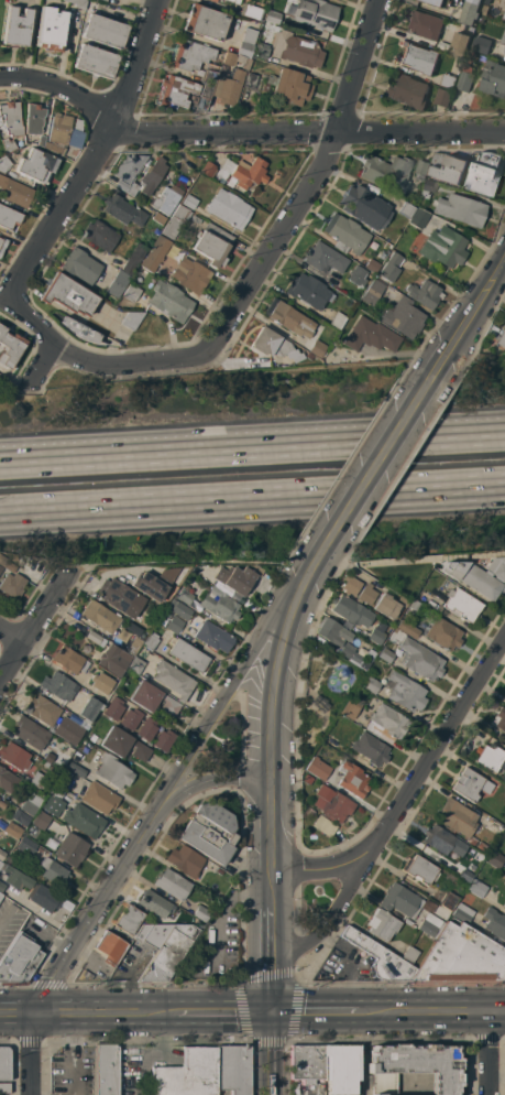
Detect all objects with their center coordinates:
building: (103, 0)
building: (213, 0)
building: (234, 1)
building: (437, 2)
building: (77, 3)
building: (251, 11)
building: (471, 11)
building: (315, 13)
building: (504, 15)
building: (272, 17)
building: (205, 22)
building: (425, 24)
building: (466, 25)
building: (17, 26)
building: (50, 29)
building: (105, 31)
building: (264, 31)
building: (503, 37)
building: (246, 43)
building: (460, 43)
building: (482, 44)
building: (295, 50)
building: (504, 50)
building: (262, 51)
building: (190, 55)
building: (418, 57)
building: (229, 58)
building: (95, 61)
building: (245, 63)
building: (465, 78)
building: (494, 78)
building: (250, 80)
building: (449, 80)
building: (208, 83)
building: (288, 86)
building: (229, 87)
road: (64, 90)
building: (406, 90)
building: (176, 91)
building: (443, 97)
building: (11, 118)
building: (33, 119)
building: (77, 124)
building: (57, 132)
road: (309, 133)
building: (41, 140)
building: (8, 143)
building: (438, 158)
building: (490, 158)
building: (3, 164)
building: (36, 165)
building: (129, 166)
building: (141, 169)
building: (208, 169)
building: (422, 169)
building: (450, 170)
building: (242, 172)
building: (386, 172)
building: (149, 177)
building: (481, 178)
building: (122, 185)
building: (14, 192)
building: (166, 199)
building: (189, 202)
road: (67, 204)
building: (455, 205)
building: (365, 207)
building: (228, 208)
building: (406, 209)
building: (122, 210)
building: (8, 217)
building: (158, 218)
building: (419, 218)
building: (196, 219)
building: (176, 221)
road: (287, 227)
building: (345, 234)
building: (100, 235)
building: (0, 240)
building: (212, 245)
building: (443, 247)
building: (1, 250)
building: (155, 253)
building: (323, 258)
building: (133, 259)
building: (80, 265)
building: (372, 265)
building: (389, 267)
building: (190, 275)
building: (356, 275)
building: (118, 283)
building: (309, 291)
building: (373, 292)
building: (424, 293)
building: (68, 294)
building: (129, 295)
road: (481, 300)
building: (169, 301)
building: (403, 317)
building: (131, 318)
building: (290, 319)
building: (338, 319)
building: (77, 329)
building: (371, 335)
building: (501, 338)
building: (273, 345)
building: (9, 347)
building: (316, 348)
building: (307, 356)
road: (84, 359)
road: (389, 445)
road: (252, 449)
road: (252, 497)
road: (194, 562)
building: (7, 565)
building: (435, 566)
building: (0, 568)
building: (477, 575)
building: (417, 576)
building: (234, 578)
road: (301, 584)
building: (349, 584)
building: (12, 585)
building: (150, 585)
building: (397, 589)
building: (407, 592)
building: (365, 594)
building: (116, 595)
building: (183, 596)
building: (400, 601)
building: (219, 605)
building: (460, 605)
building: (385, 606)
building: (410, 607)
building: (180, 610)
building: (351, 610)
building: (99, 616)
road: (31, 622)
building: (174, 625)
building: (406, 628)
building: (332, 630)
road: (10, 633)
building: (441, 633)
building: (375, 636)
building: (213, 637)
building: (96, 638)
building: (151, 641)
building: (134, 646)
building: (86, 649)
building: (345, 650)
building: (385, 654)
building: (188, 655)
building: (69, 660)
building: (113, 660)
building: (420, 660)
building: (136, 664)
building: (174, 679)
building: (102, 683)
building: (371, 684)
building: (58, 685)
building: (404, 691)
building: (153, 698)
road: (271, 700)
building: (89, 708)
building: (113, 708)
road: (219, 708)
building: (351, 708)
building: (42, 709)
building: (130, 718)
building: (501, 719)
building: (386, 723)
building: (146, 729)
building: (68, 730)
building: (30, 733)
building: (92, 737)
building: (163, 740)
building: (123, 745)
building: (370, 748)
building: (14, 756)
building: (490, 757)
building: (59, 761)
building: (317, 768)
building: (75, 769)
building: (112, 771)
building: (63, 778)
road: (213, 778)
building: (308, 779)
building: (8, 780)
building: (40, 780)
building: (352, 780)
building: (471, 784)
road: (413, 785)
building: (99, 798)
building: (54, 801)
building: (31, 803)
building: (332, 804)
building: (21, 817)
building: (457, 817)
building: (84, 821)
building: (213, 821)
building: (45, 823)
building: (323, 826)
building: (12, 830)
building: (438, 838)
building: (471, 839)
building: (205, 843)
building: (25, 845)
building: (463, 845)
building: (481, 846)
building: (70, 849)
building: (2, 855)
building: (10, 858)
building: (495, 859)
building: (185, 860)
building: (0, 864)
building: (420, 869)
building: (54, 871)
building: (465, 875)
building: (17, 878)
building: (172, 883)
building: (1, 887)
building: (476, 888)
building: (0, 895)
road: (273, 896)
building: (44, 898)
building: (400, 900)
building: (449, 901)
building: (504, 904)
building: (156, 906)
road: (98, 908)
road: (333, 910)
building: (201, 912)
building: (462, 912)
building: (128, 919)
building: (494, 923)
building: (382, 924)
building: (431, 925)
building: (153, 934)
building: (110, 947)
building: (169, 953)
building: (409, 954)
building: (461, 956)
building: (380, 958)
building: (19, 960)
building: (85, 975)
road: (433, 1011)
road: (318, 1012)
road: (103, 1013)
road: (222, 1013)
traffic signals: (273, 1013)
road: (17, 1015)
road: (34, 1054)
road: (273, 1054)
road: (487, 1055)
building: (308, 1062)
building: (3, 1064)
building: (414, 1066)
building: (106, 1067)
building: (232, 1069)
building: (341, 1069)
building: (187, 1074)
building: (4, 1088)

